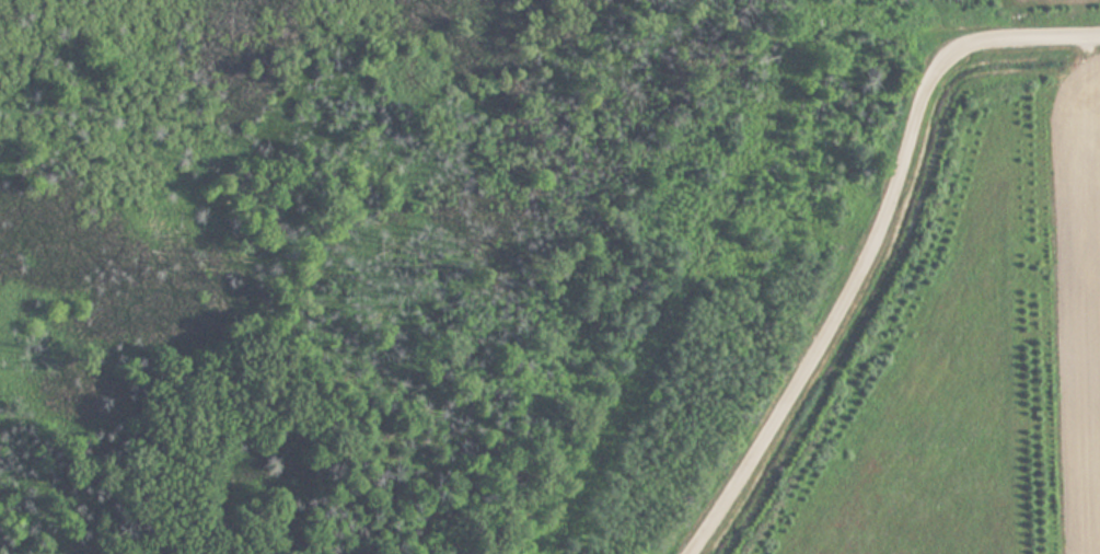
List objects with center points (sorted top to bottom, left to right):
road: (1027, 36)
road: (845, 310)

